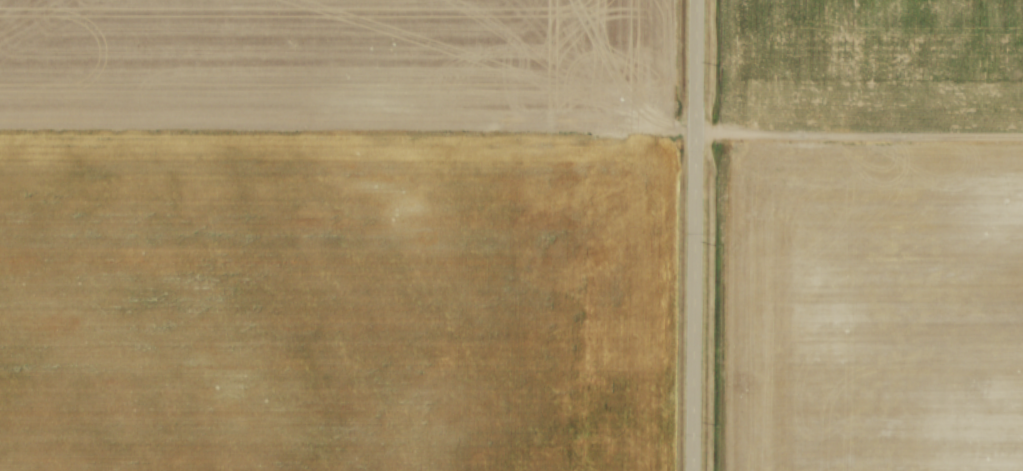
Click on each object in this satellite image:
crop: (863, 64)
crop: (333, 235)
road: (688, 235)

